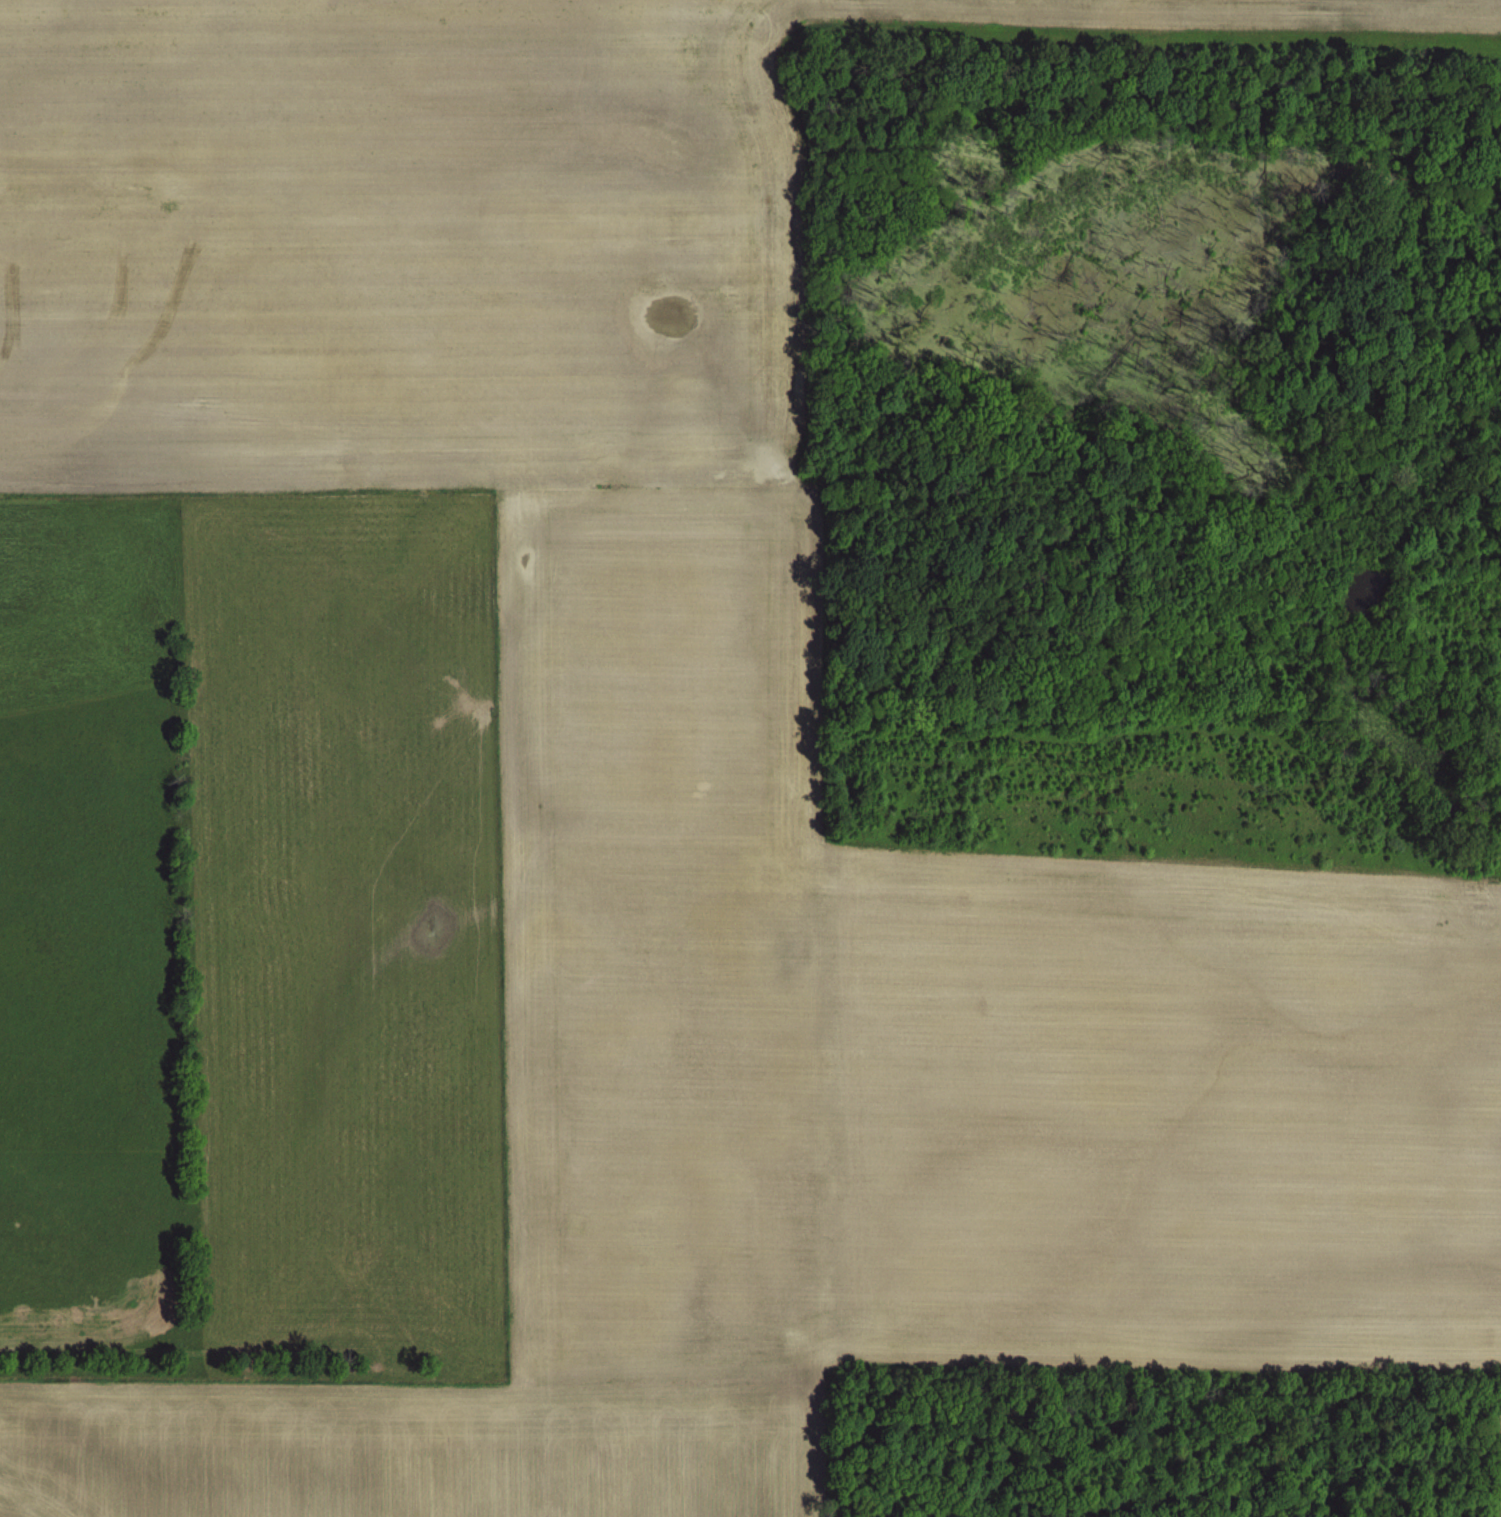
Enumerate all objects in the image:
crop: (750, 758)

